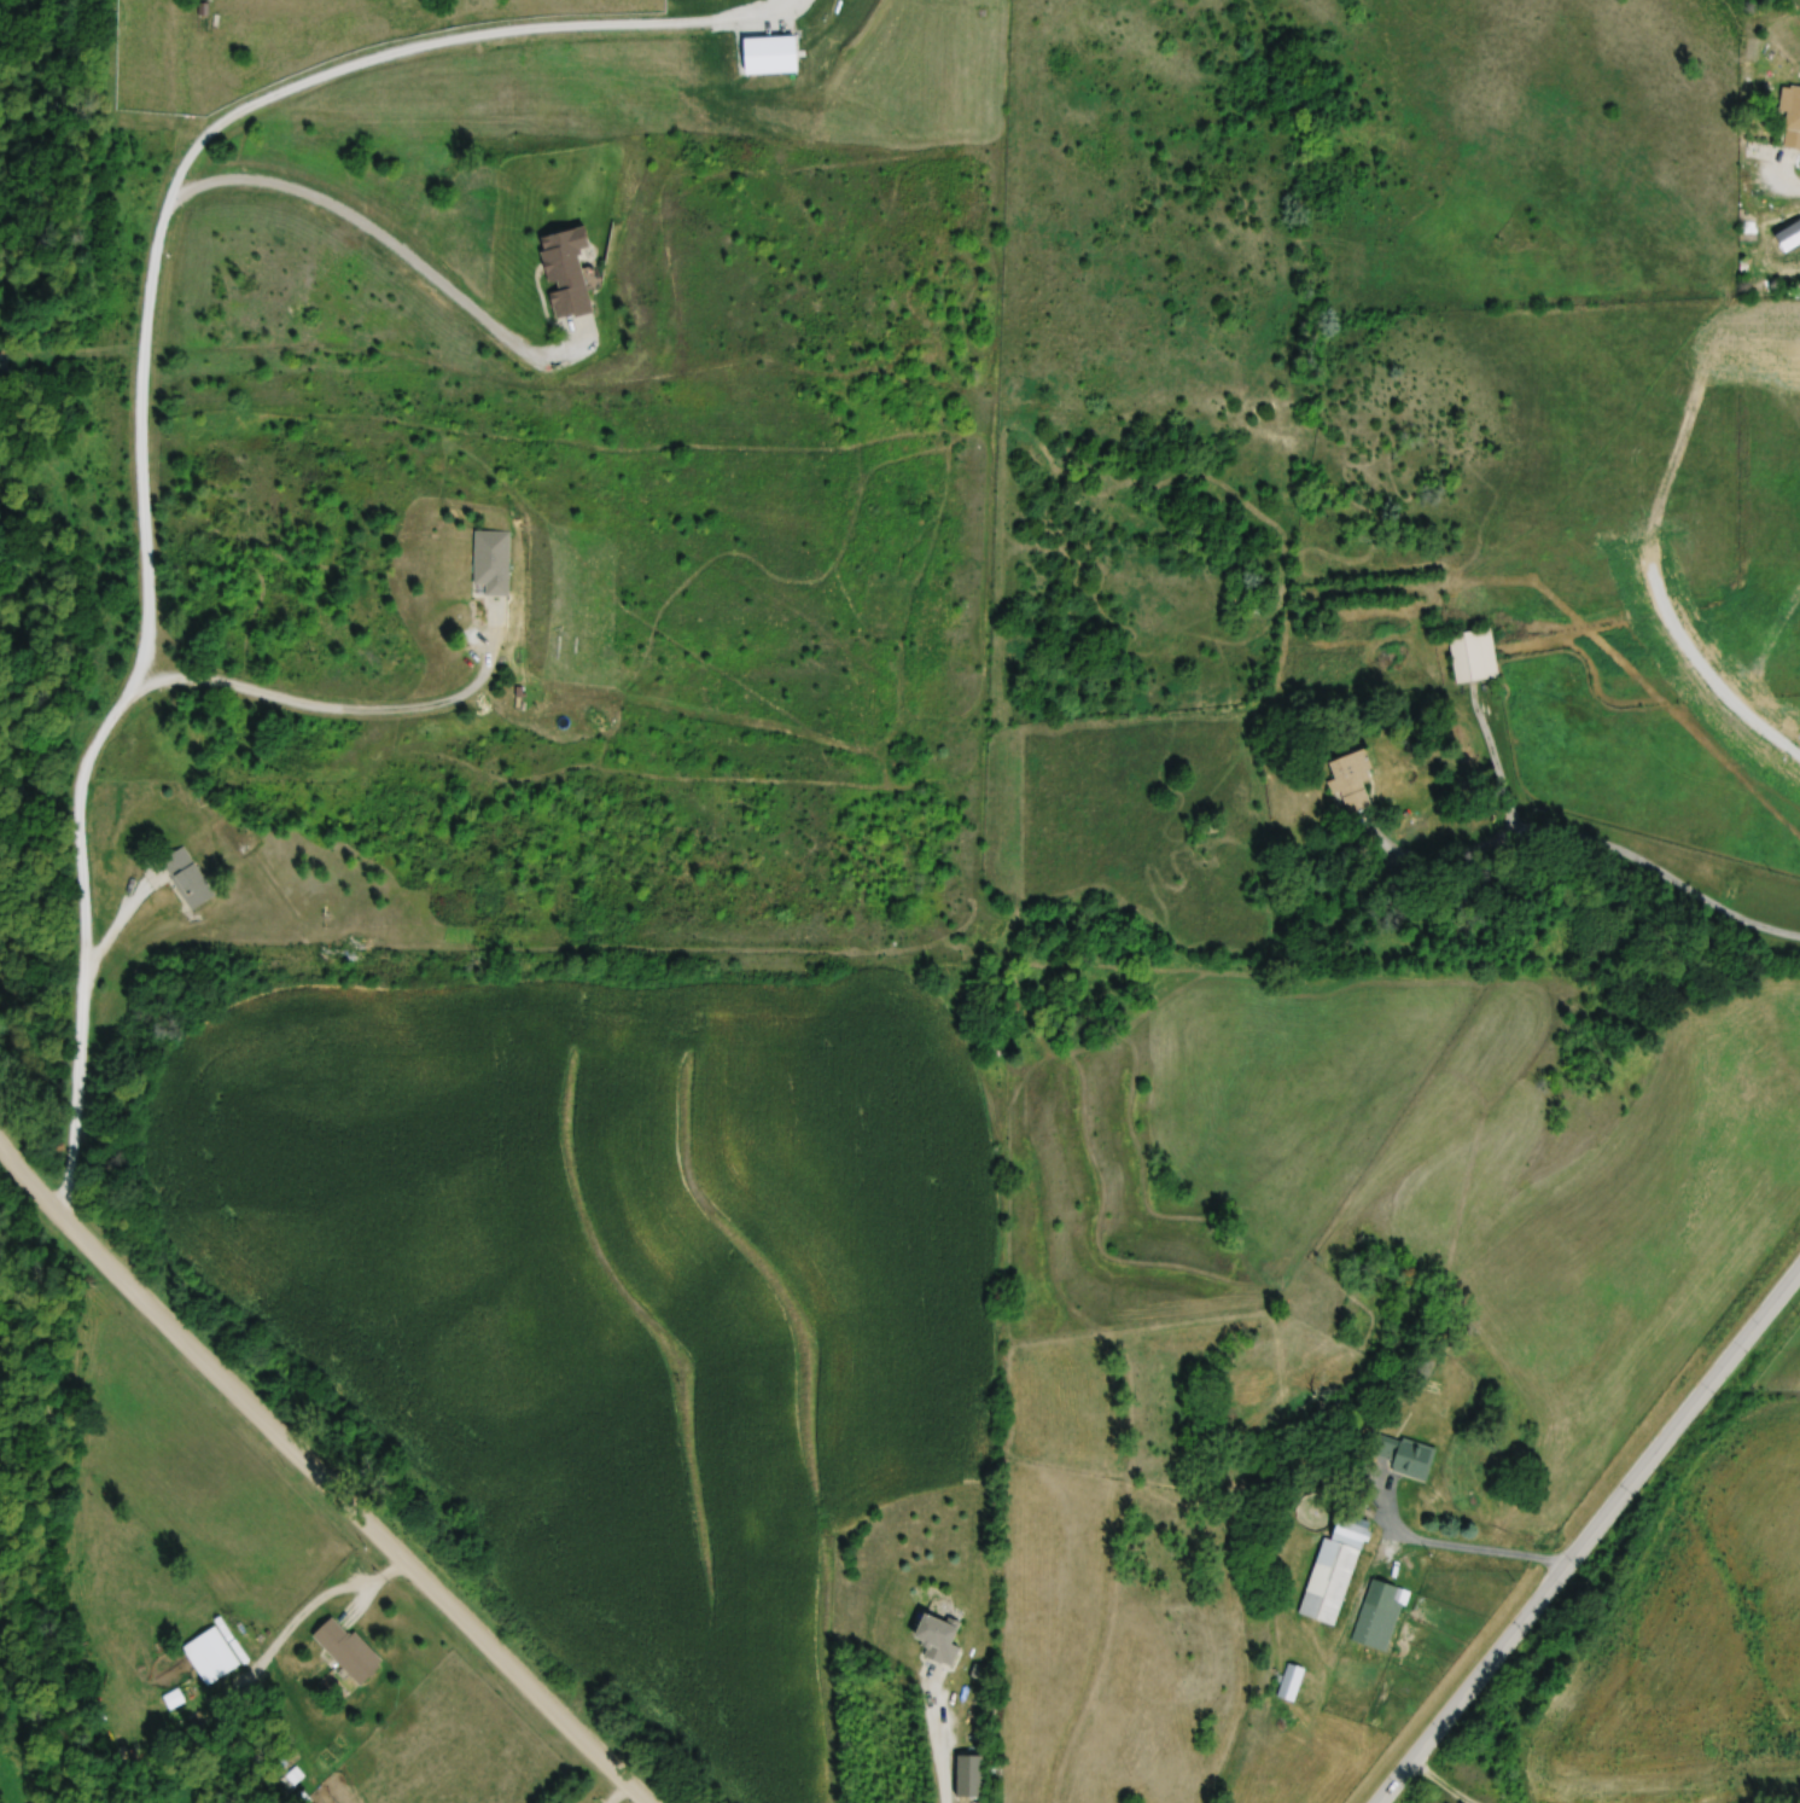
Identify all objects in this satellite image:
building: (1792, 116)
road: (211, 128)
road: (1782, 167)
building: (1793, 237)
road: (390, 239)
building: (564, 273)
building: (493, 563)
building: (1322, 624)
building: (1469, 647)
road: (106, 731)
road: (1497, 763)
building: (1342, 773)
building: (1211, 827)
road: (1586, 842)
building: (188, 878)
building: (1396, 1446)
road: (318, 1477)
road: (1590, 1539)
road: (1460, 1549)
building: (1334, 1568)
road: (319, 1604)
building: (1380, 1615)
building: (937, 1638)
building: (348, 1650)
building: (211, 1654)
building: (1291, 1682)
road: (943, 1735)
building: (968, 1775)
road: (622, 1793)

